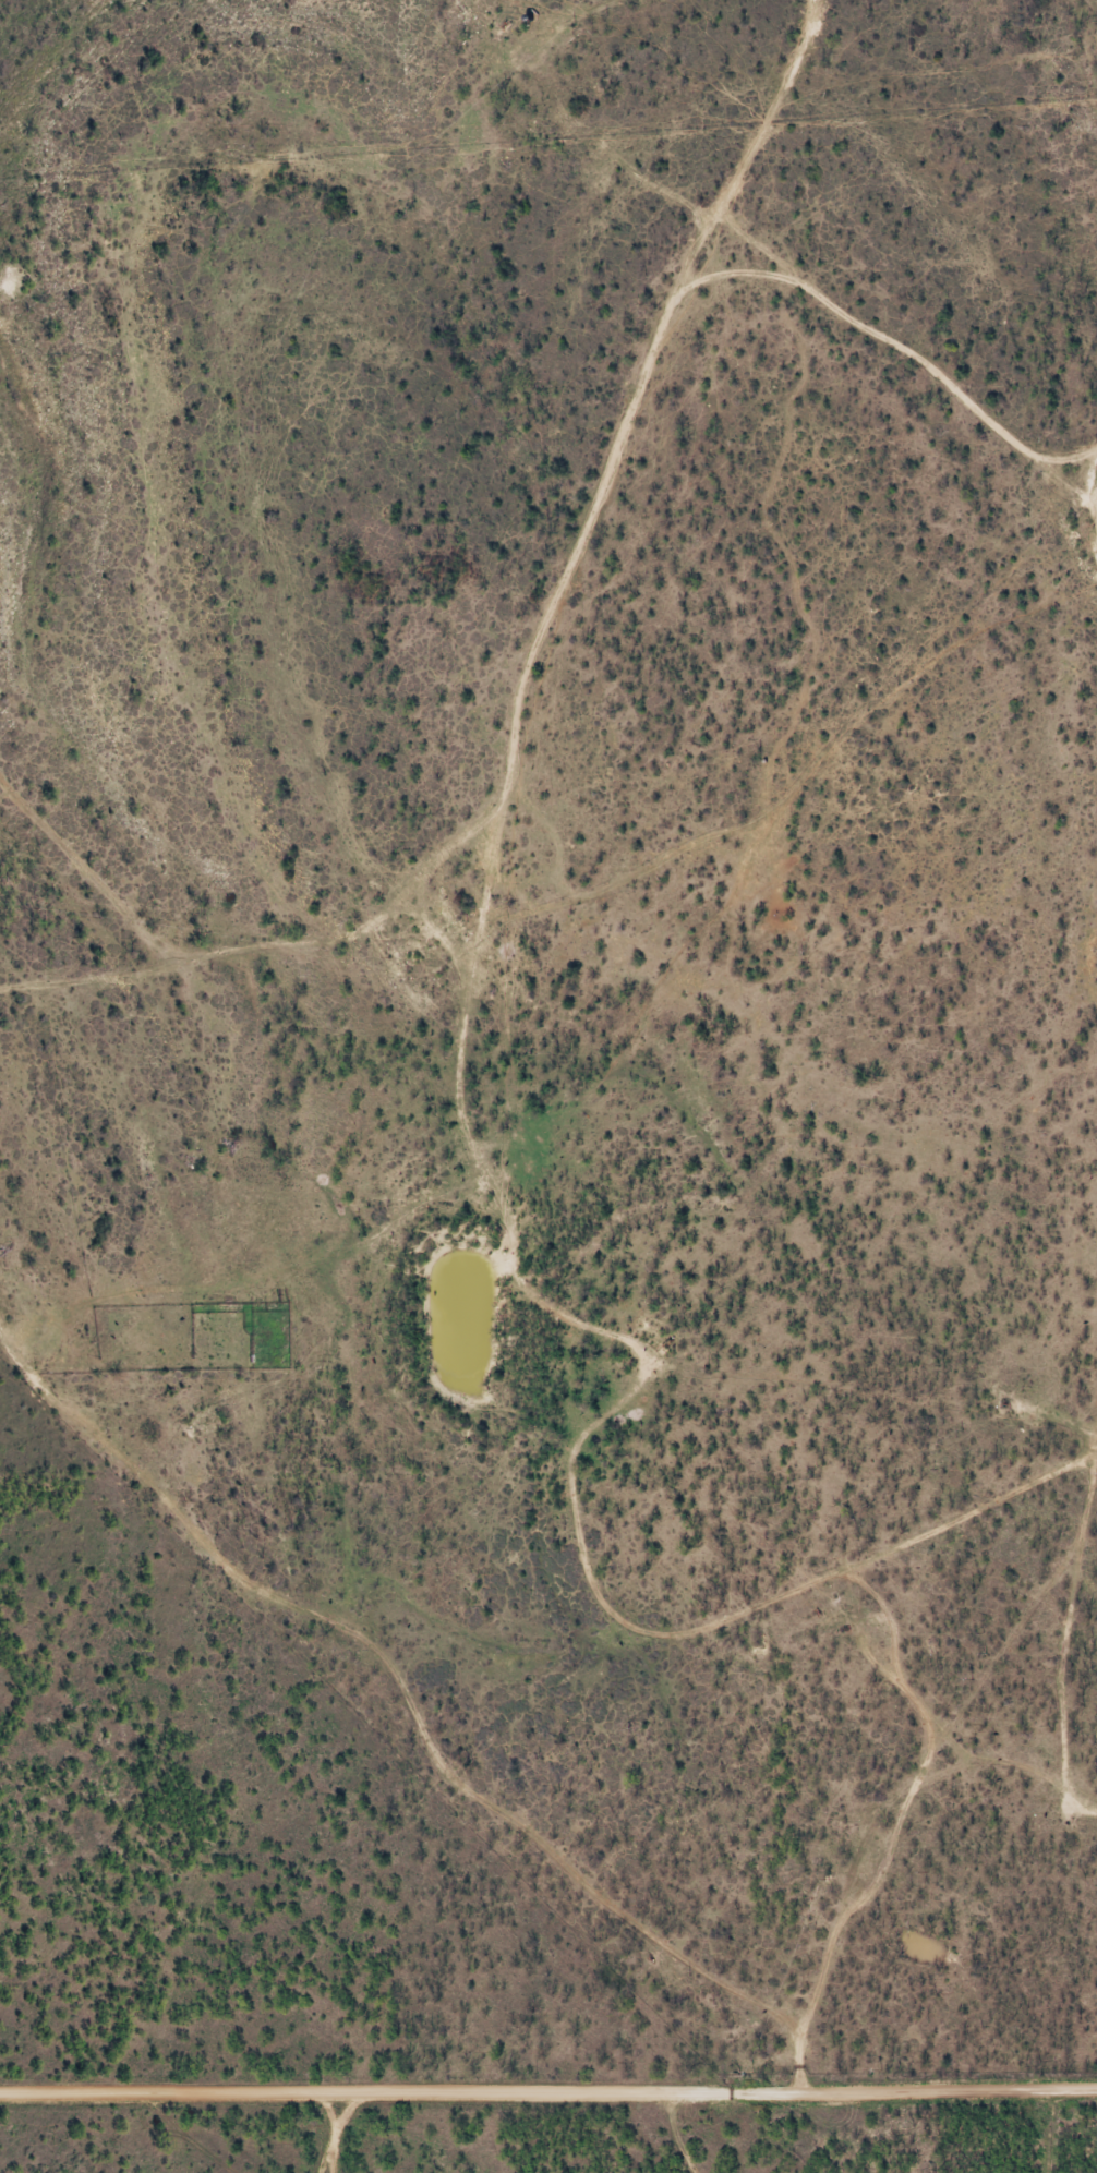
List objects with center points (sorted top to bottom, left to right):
road: (489, 867)
road: (759, 1607)
road: (401, 1702)
road: (548, 2105)

